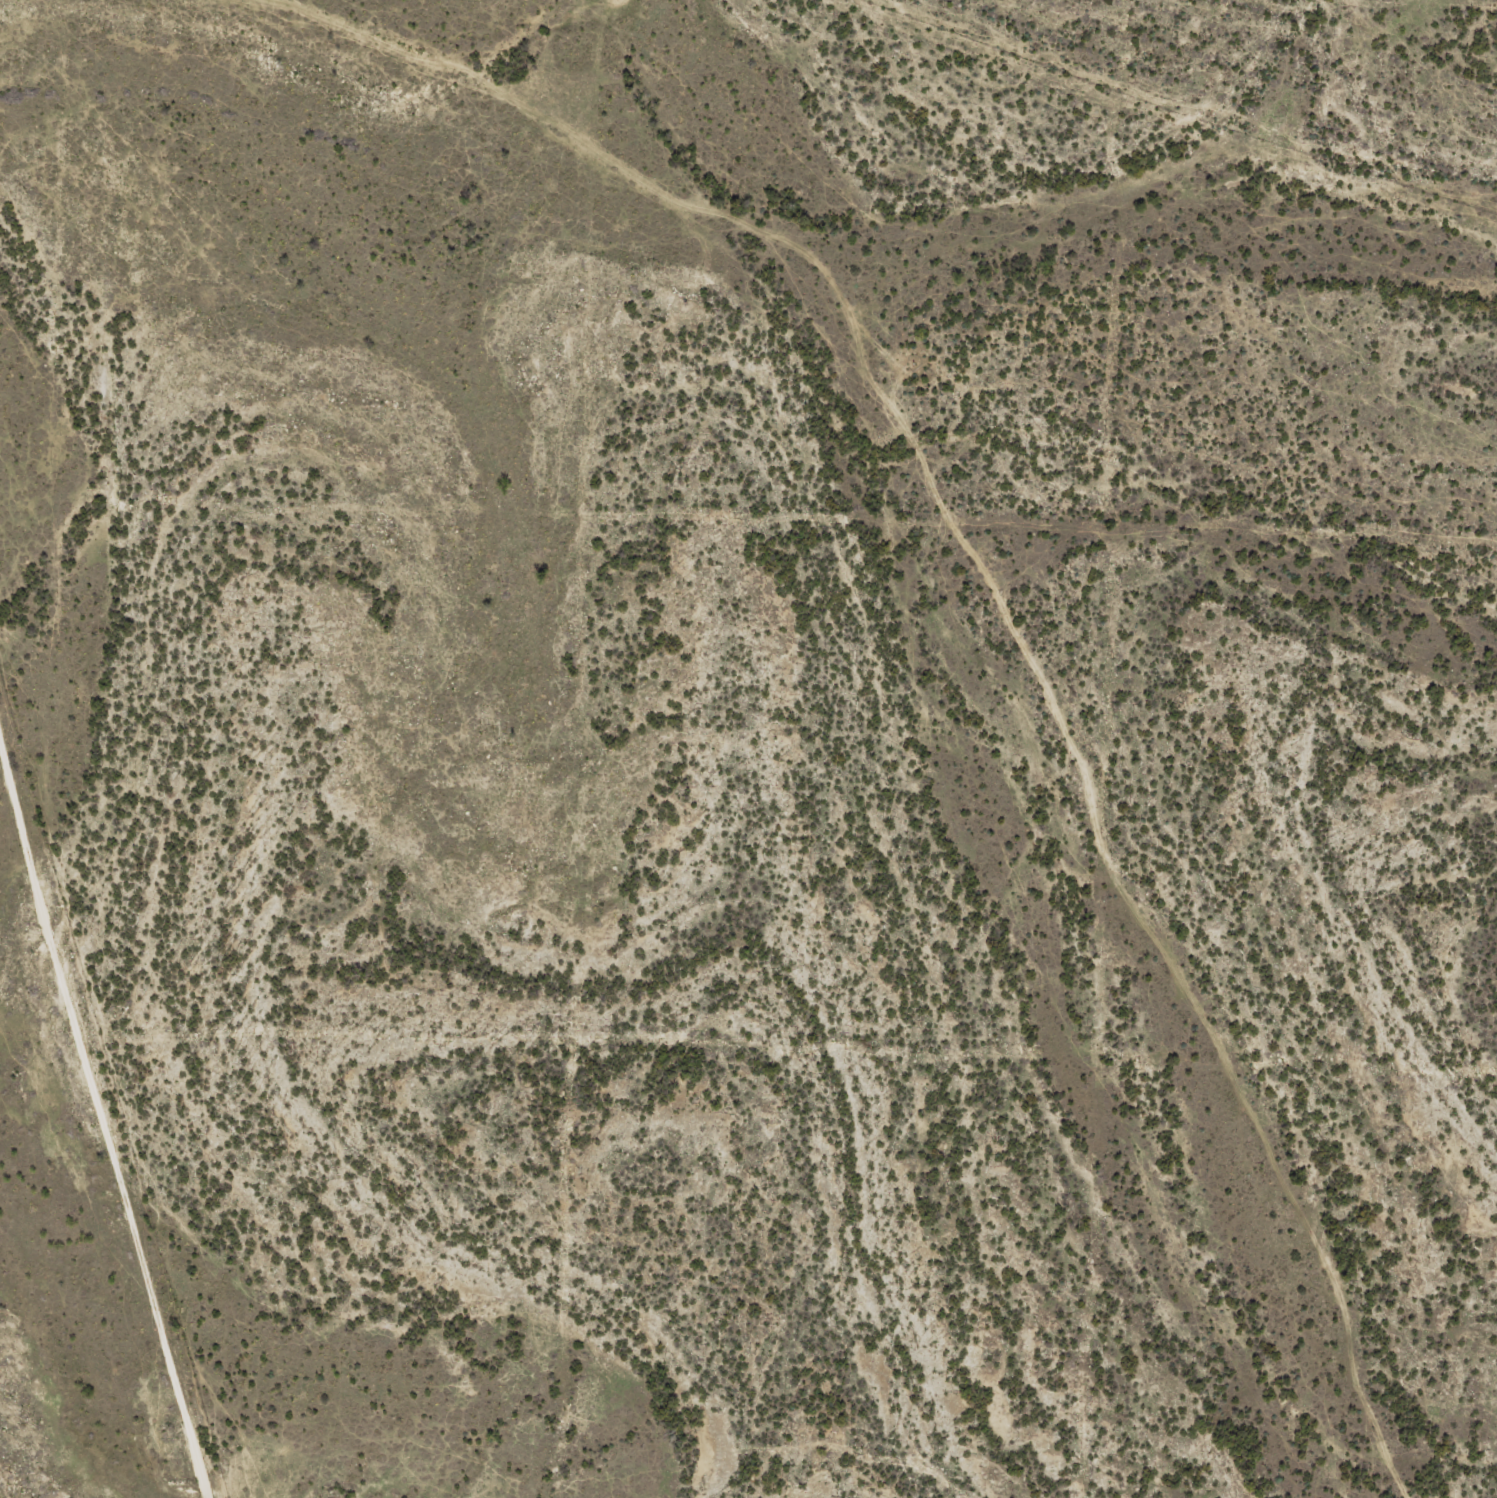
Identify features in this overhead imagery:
road: (1015, 592)
road: (170, 1117)

